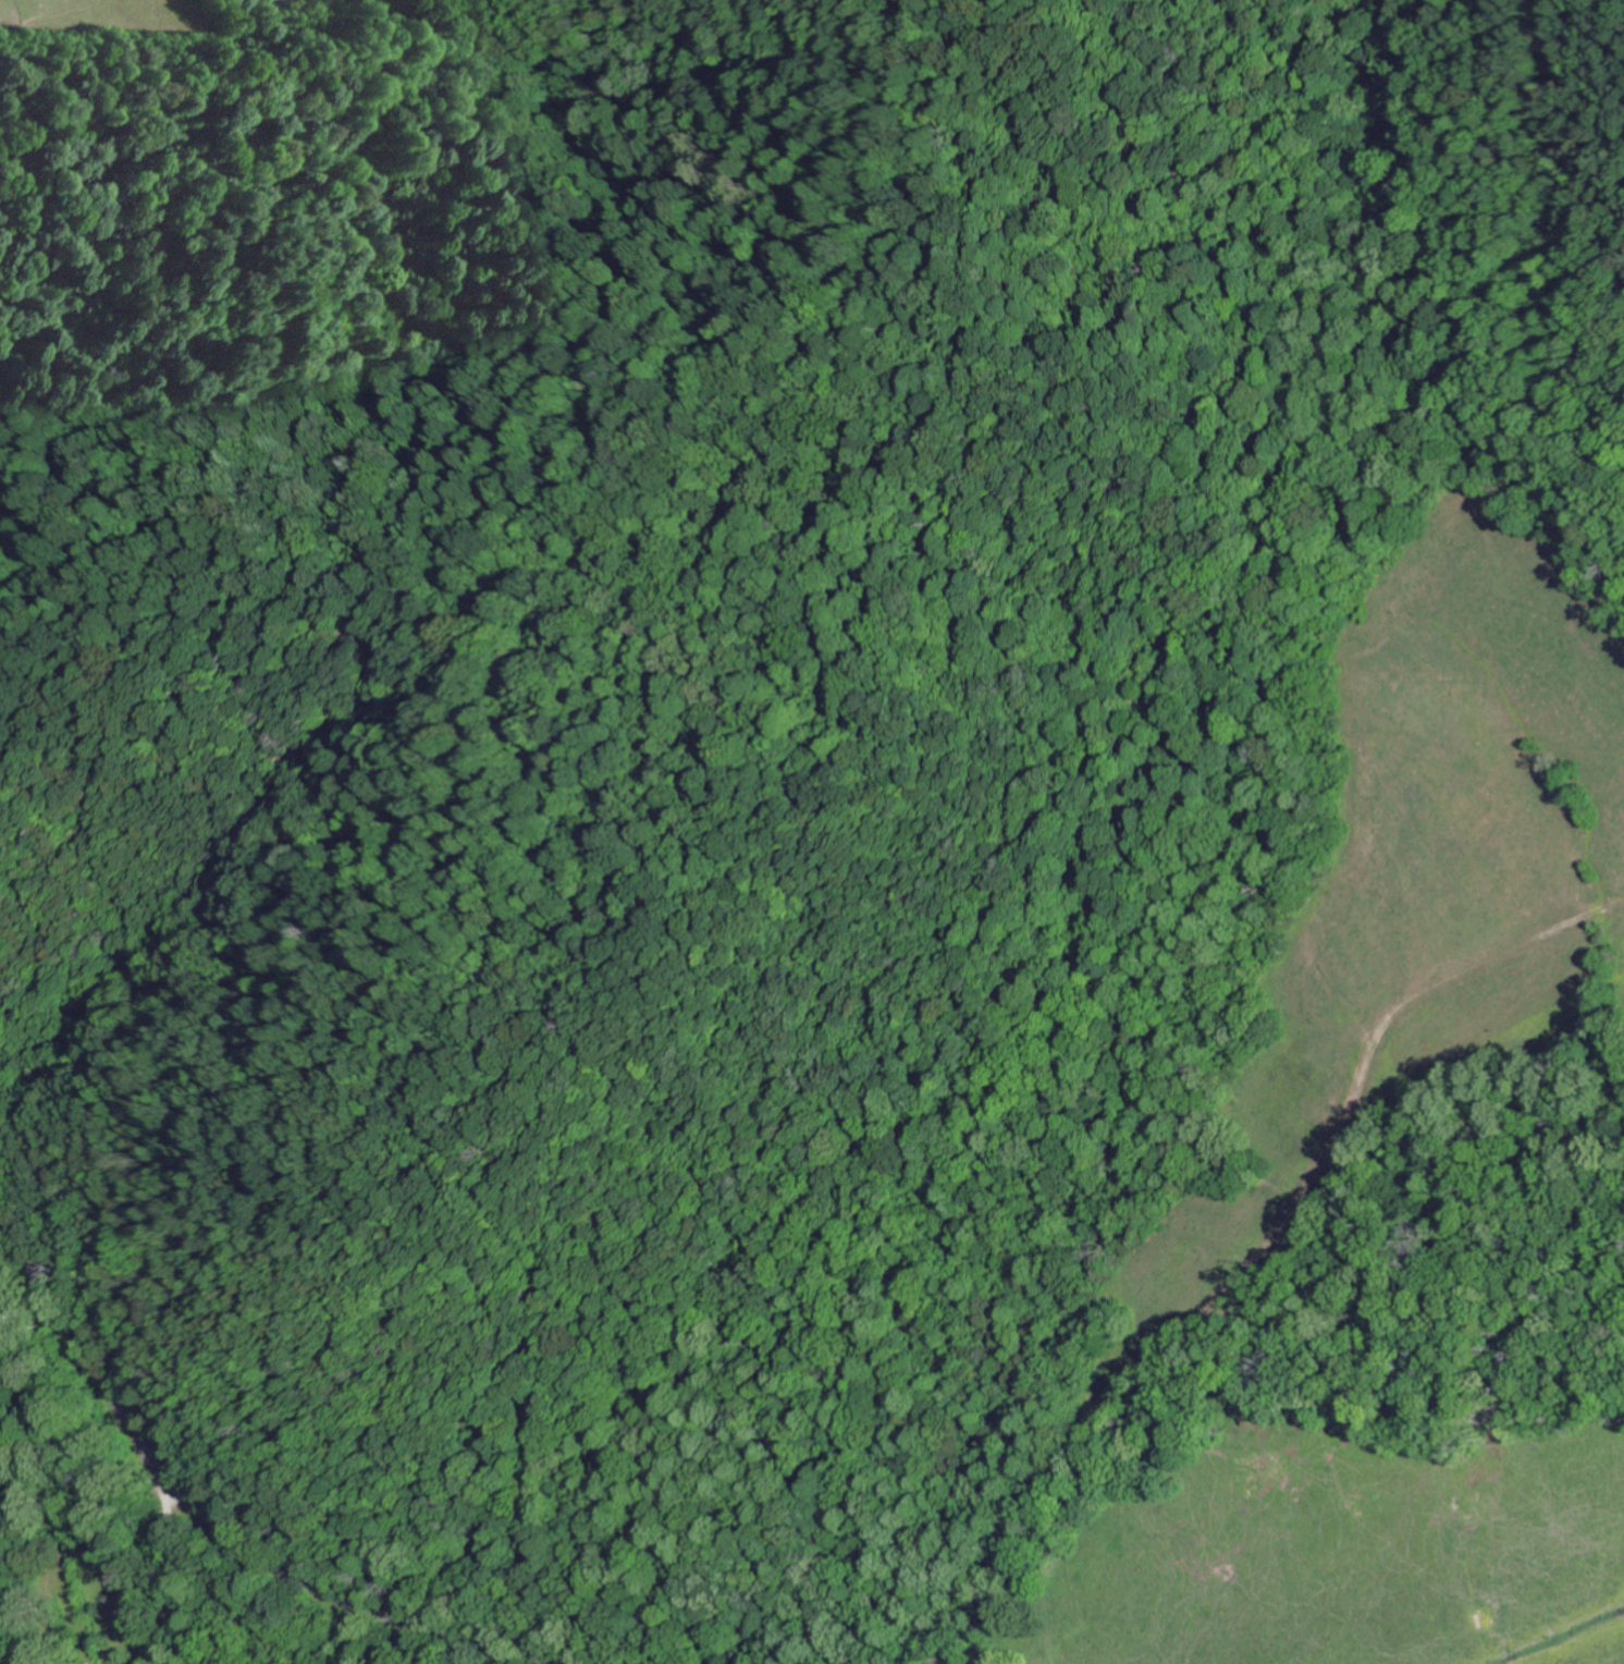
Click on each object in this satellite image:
road: (222, 1539)
road: (135, 1579)

